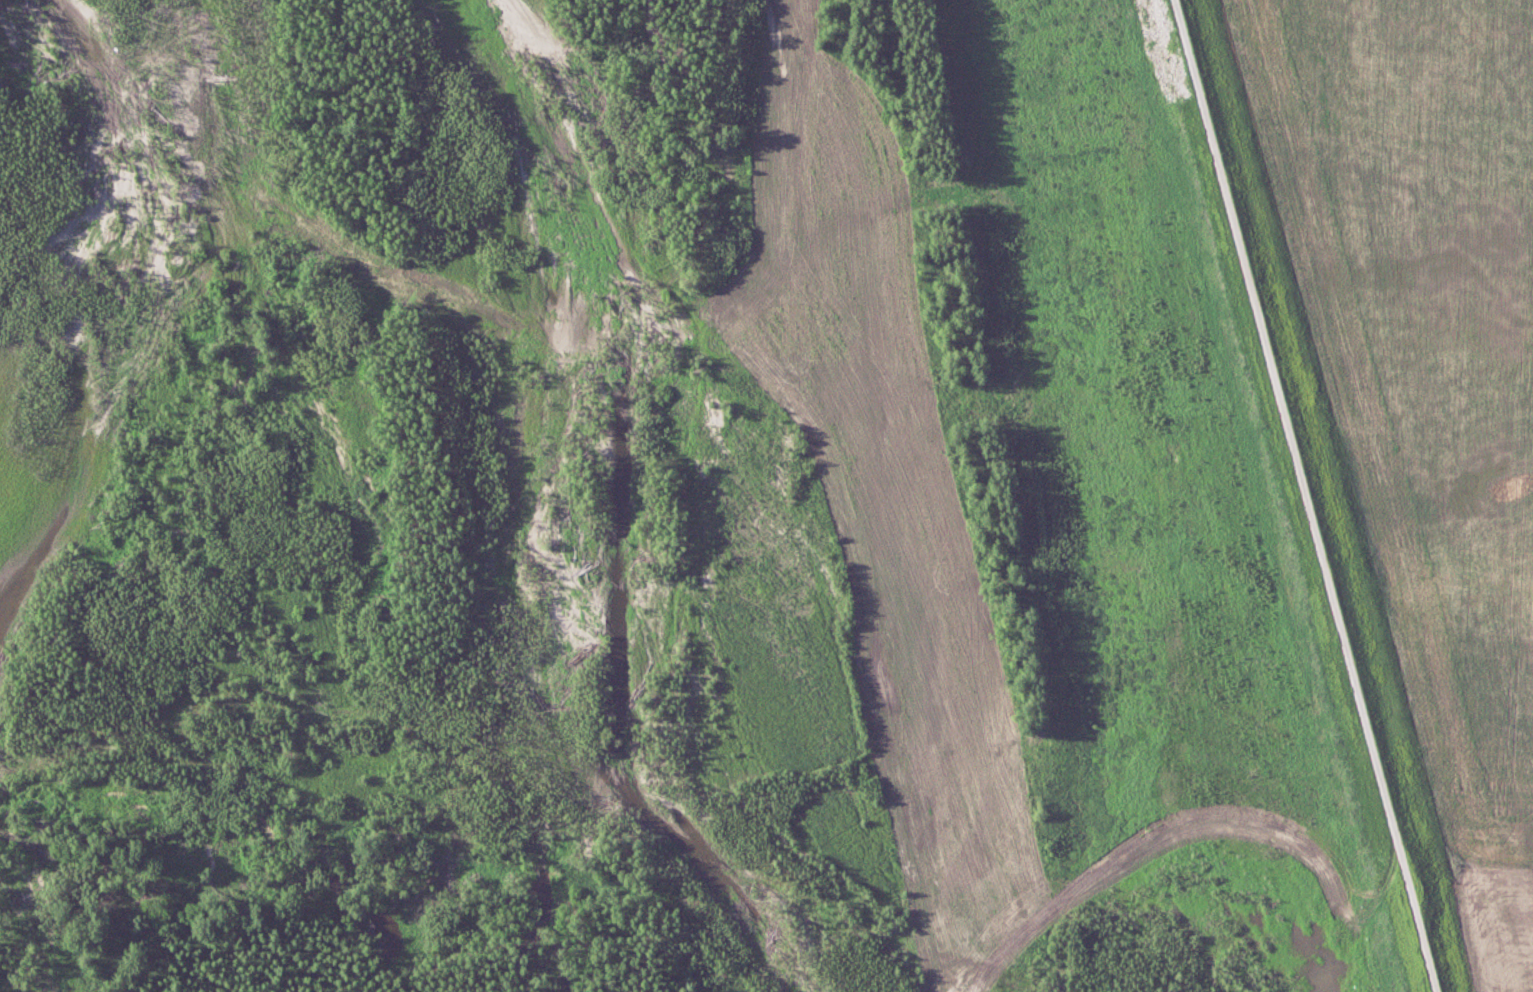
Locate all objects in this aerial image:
road: (1304, 496)

